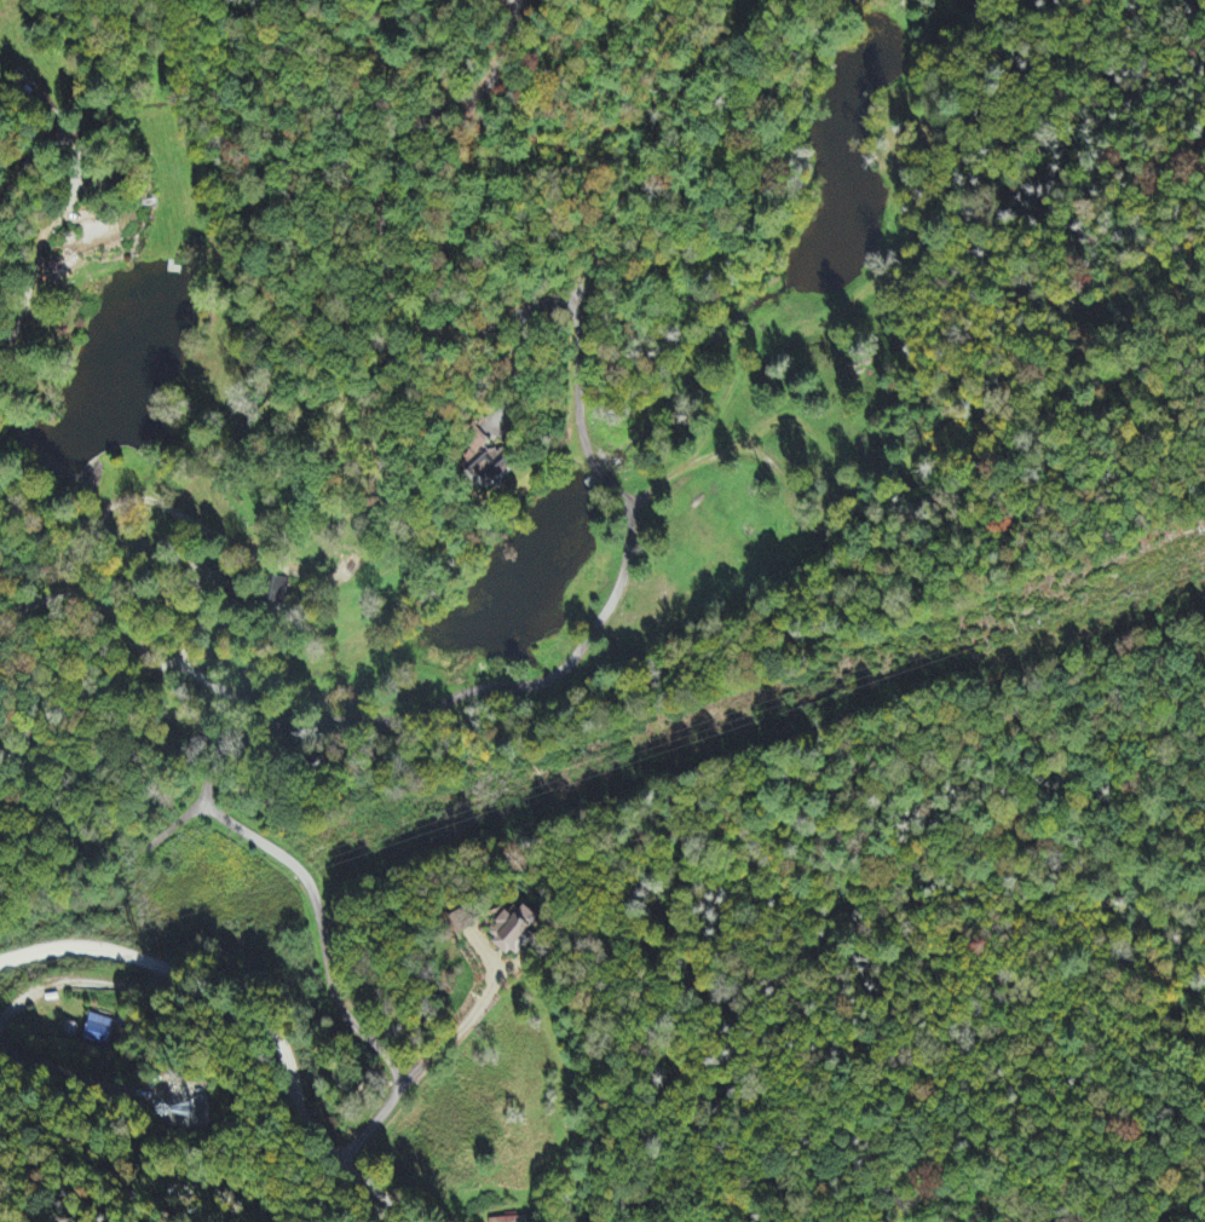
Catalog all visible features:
road: (641, 157)
road: (381, 197)
building: (94, 232)
road: (720, 405)
building: (277, 592)
power tower: (1016, 629)
road: (359, 719)
power tower: (610, 757)
power tower: (131, 922)
building: (462, 923)
building: (513, 930)
road: (255, 1011)
road: (467, 1022)
building: (69, 1032)
building: (98, 1032)
building: (509, 1221)

